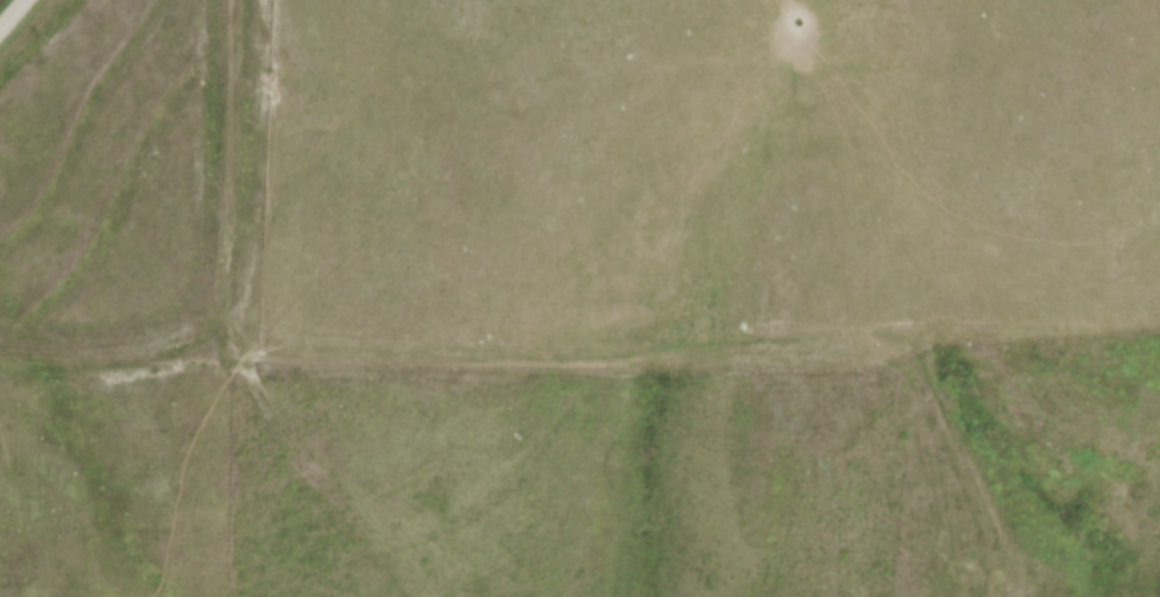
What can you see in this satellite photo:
road: (12, 13)

